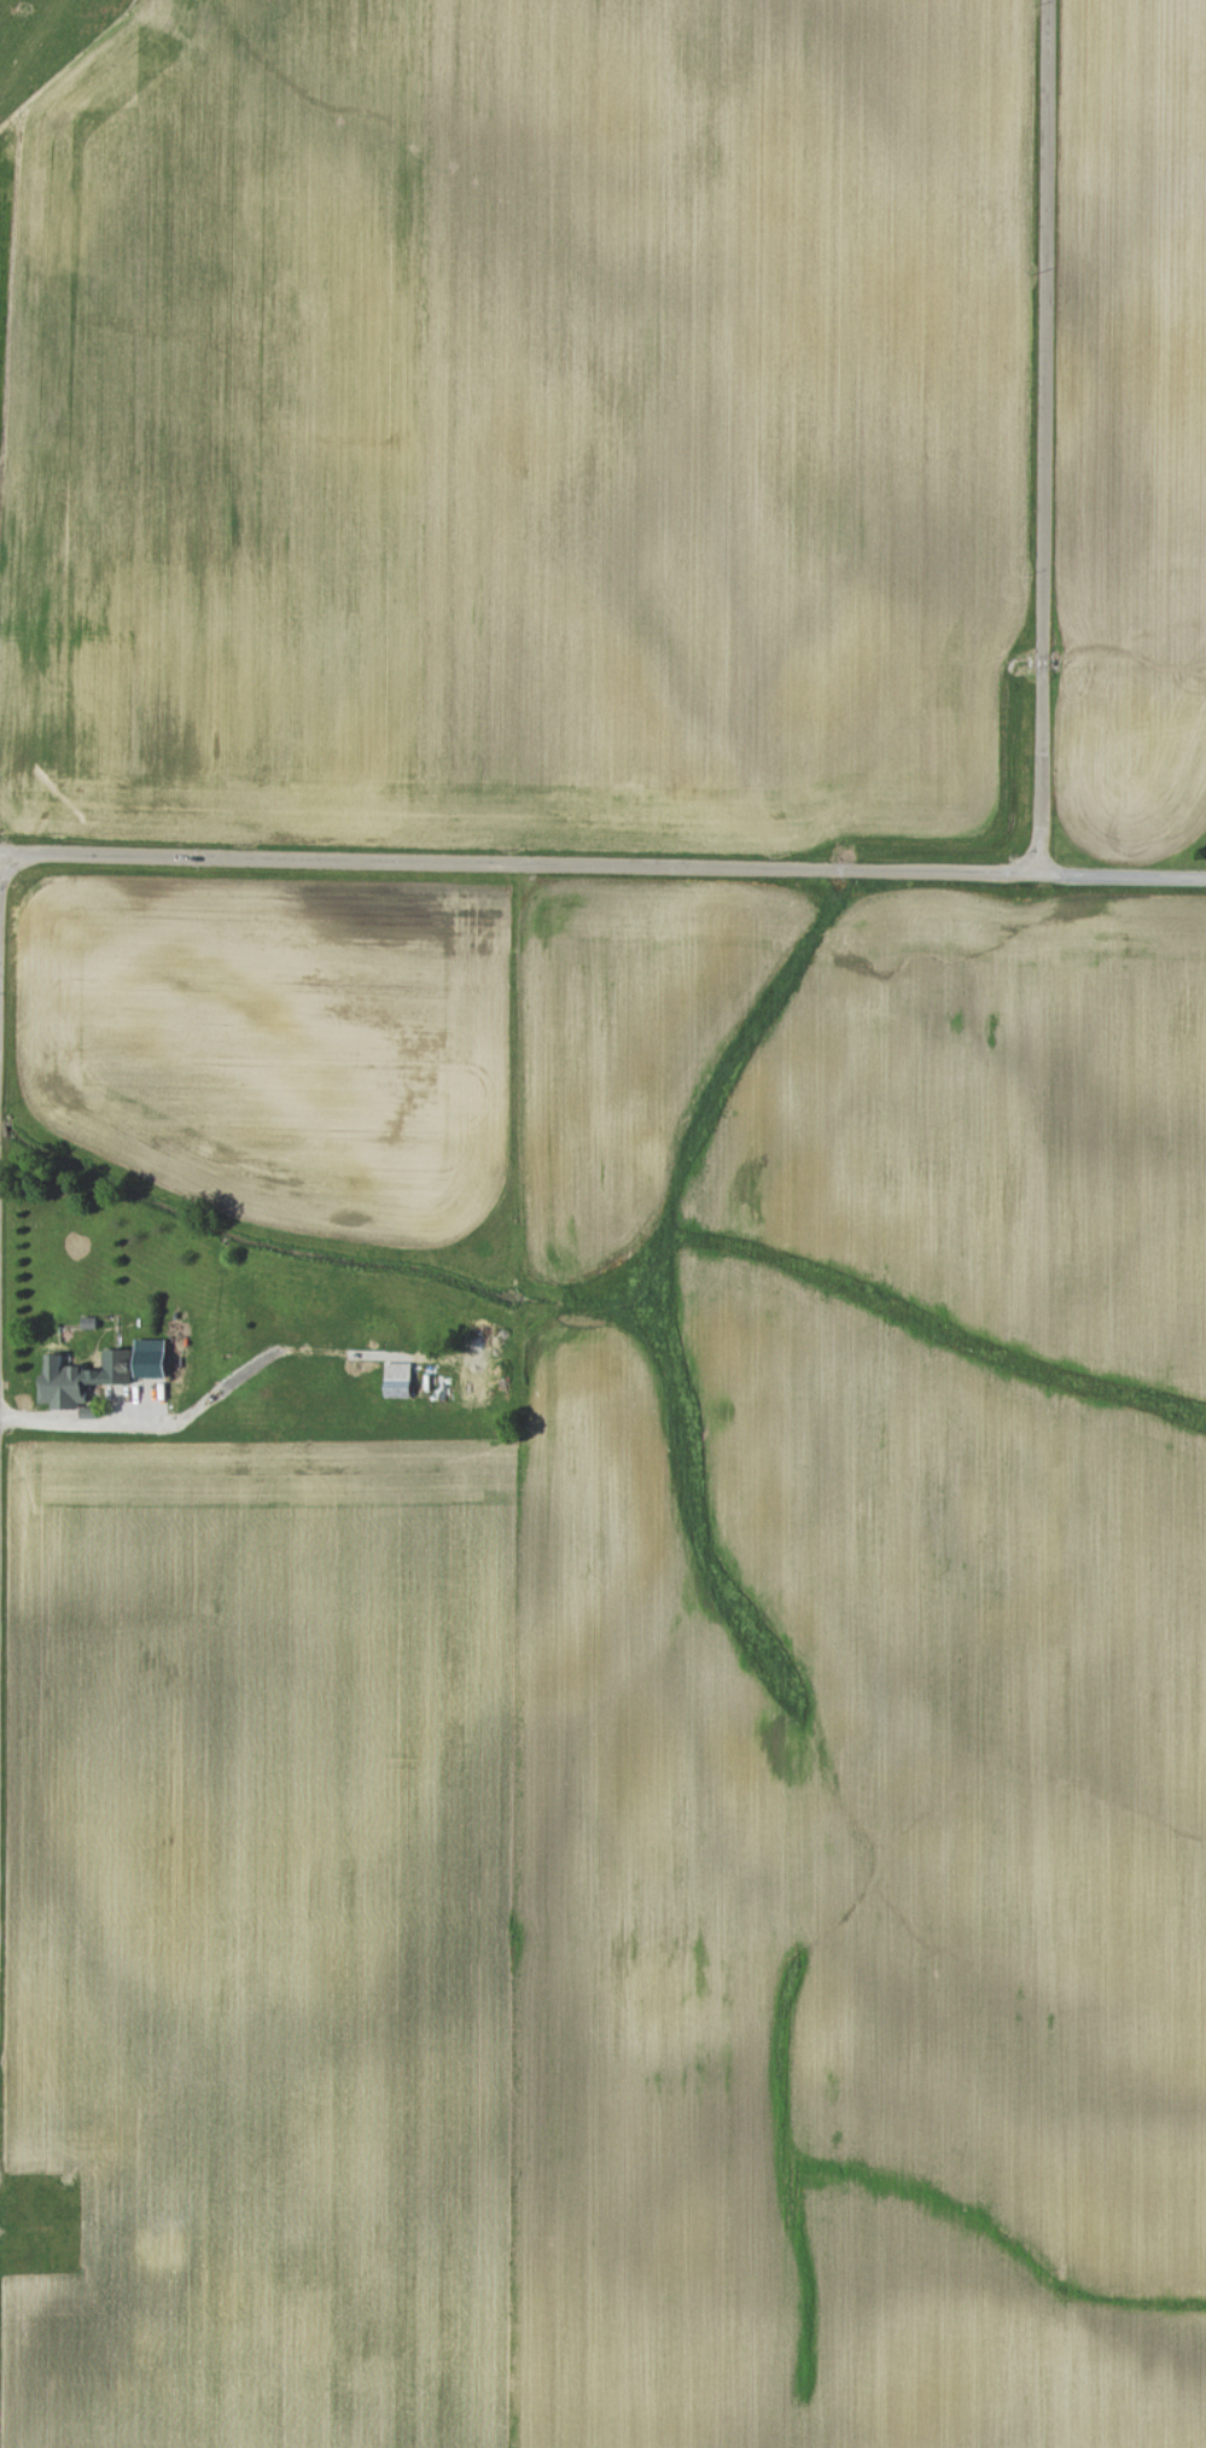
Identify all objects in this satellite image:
road: (1043, 438)
road: (517, 861)
road: (1119, 878)
building: (148, 1358)
building: (81, 1377)
building: (397, 1380)
road: (74, 1421)

